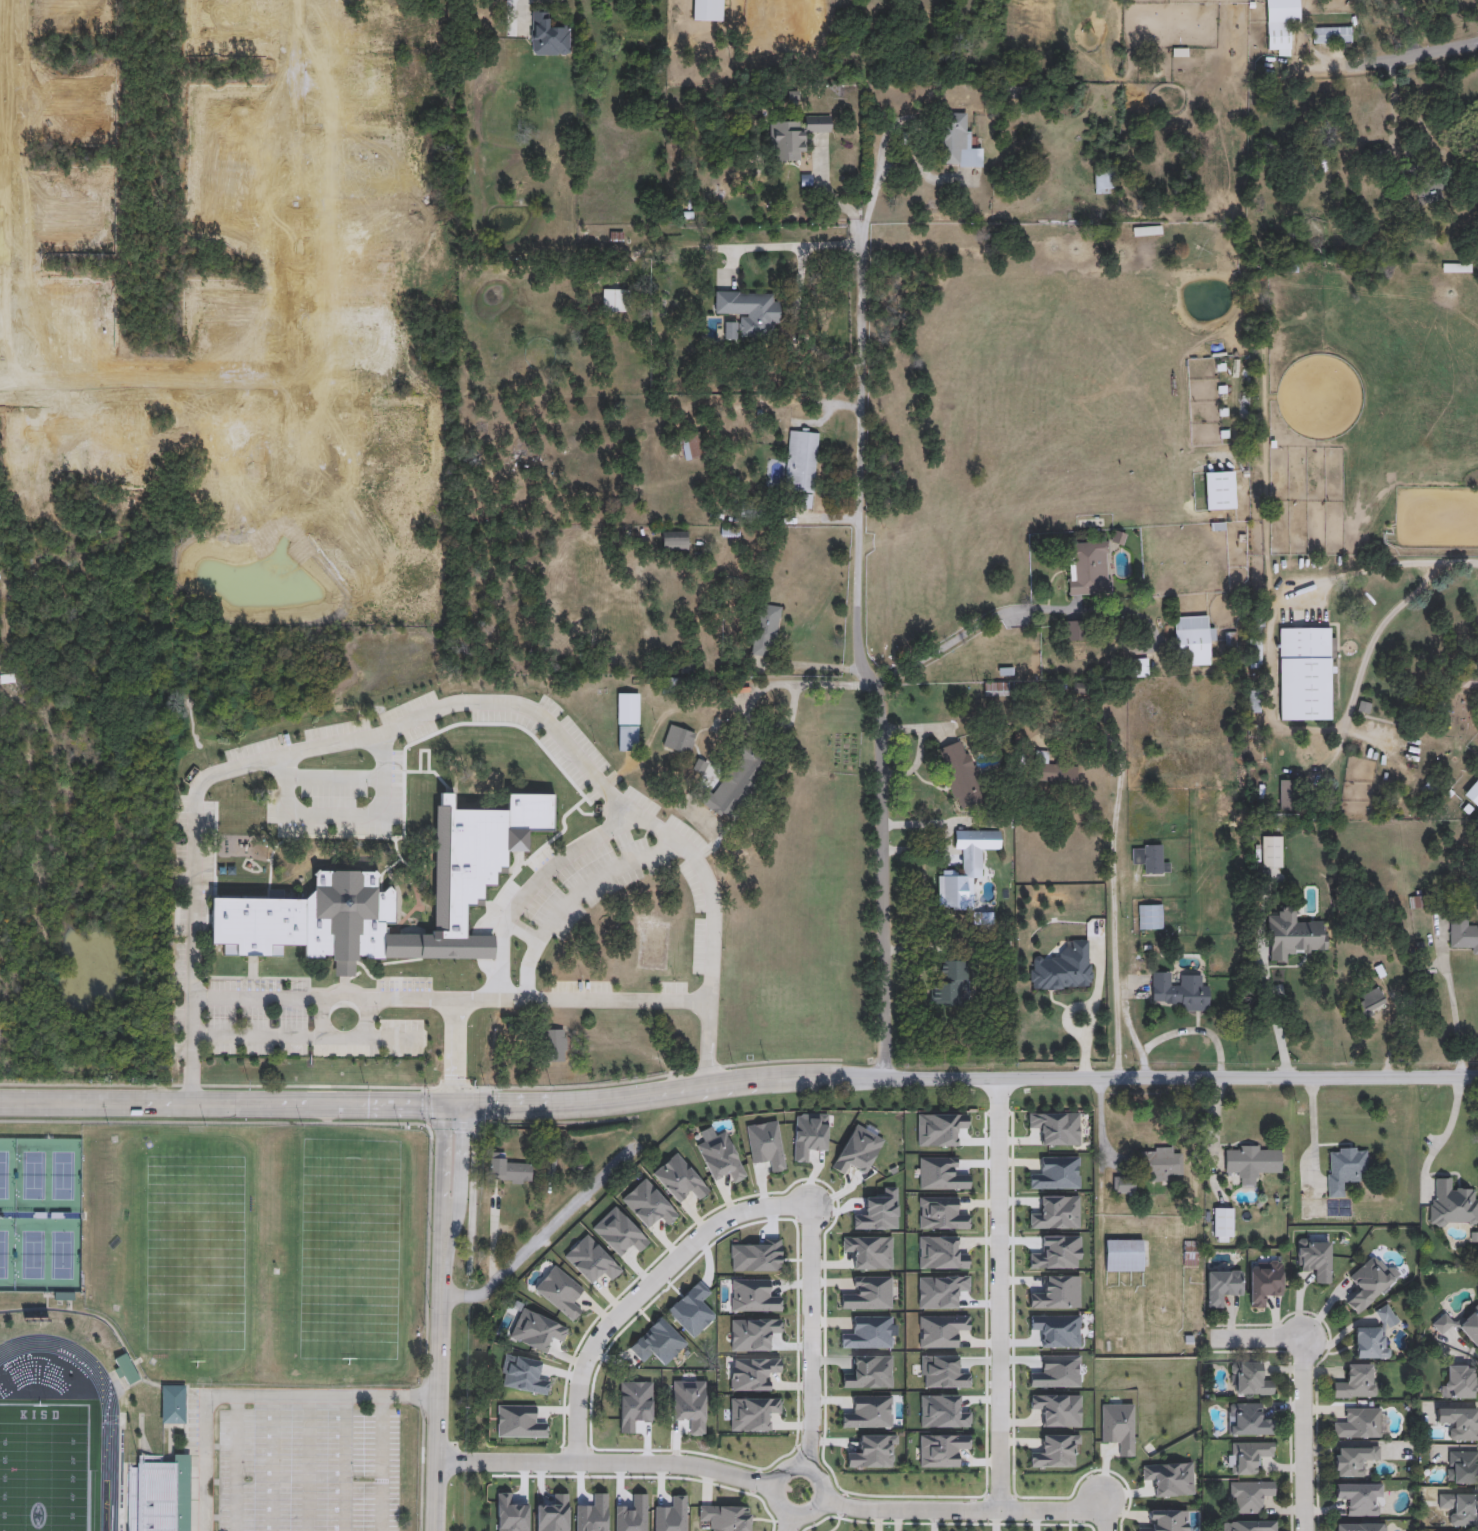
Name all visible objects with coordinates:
building: (1280, 24)
building: (548, 36)
building: (1331, 36)
road: (1415, 56)
road: (903, 123)
building: (794, 137)
building: (956, 142)
building: (1376, 159)
building: (1316, 162)
road: (897, 167)
building: (1104, 179)
building: (1424, 180)
road: (792, 247)
building: (613, 301)
building: (748, 314)
building: (690, 446)
building: (801, 461)
building: (1219, 491)
building: (674, 541)
road: (1456, 565)
building: (1088, 568)
road: (1011, 612)
building: (764, 630)
building: (1192, 641)
road: (861, 650)
building: (1255, 661)
road: (814, 665)
building: (1304, 674)
building: (995, 690)
road: (428, 713)
road: (1268, 713)
building: (627, 721)
building: (679, 739)
building: (1052, 771)
building: (960, 774)
road: (335, 779)
building: (731, 783)
building: (1472, 793)
building: (1286, 795)
road: (345, 816)
building: (1271, 852)
building: (1149, 860)
building: (965, 869)
building: (345, 884)
road: (532, 885)
road: (576, 895)
road: (1114, 916)
building: (1149, 917)
building: (1292, 935)
building: (1463, 935)
building: (1062, 969)
building: (949, 985)
building: (1179, 991)
road: (450, 999)
building: (1372, 999)
road: (1451, 1005)
road: (1275, 1014)
road: (322, 1017)
road: (367, 1018)
road: (304, 1035)
road: (454, 1038)
building: (555, 1045)
road: (453, 1077)
road: (738, 1081)
traffic signals: (442, 1103)
traffic signals: (463, 1103)
road: (1100, 1121)
road: (1450, 1129)
road: (1314, 1134)
building: (1252, 1162)
building: (1160, 1163)
building: (1069, 1166)
building: (508, 1168)
building: (1344, 1168)
park: (7, 1176)
park: (30, 1177)
park: (63, 1178)
road: (441, 1181)
road: (460, 1183)
building: (1124, 1185)
building: (731, 1191)
building: (1452, 1204)
building: (918, 1213)
building: (1223, 1224)
road: (543, 1236)
building: (978, 1241)
park: (193, 1247)
park: (346, 1247)
building: (1191, 1253)
building: (1124, 1256)
park: (6, 1257)
park: (30, 1258)
building: (1314, 1258)
park: (62, 1259)
building: (700, 1270)
building: (1264, 1282)
building: (1369, 1284)
building: (1222, 1286)
road: (643, 1289)
road: (1000, 1293)
building: (610, 1307)
building: (1386, 1316)
building: (761, 1324)
road: (810, 1337)
road: (1255, 1339)
building: (1369, 1343)
building: (127, 1369)
building: (1249, 1379)
building: (1356, 1381)
building: (1460, 1381)
road: (437, 1395)
road: (271, 1396)
building: (689, 1403)
building: (174, 1404)
building: (1249, 1419)
building: (1359, 1422)
building: (1459, 1423)
road: (1304, 1437)
road: (201, 1448)
building: (1248, 1456)
building: (1352, 1459)
parking lot: (307, 1460)
road: (607, 1462)
road: (346, 1463)
road: (377, 1463)
building: (1462, 1467)
park: (44, 1468)
track: (109, 1473)
road: (816, 1474)
building: (159, 1494)
building: (1250, 1496)
building: (1360, 1498)
building: (1459, 1508)
road: (963, 1509)
road: (1106, 1521)
road: (788, 1522)
building: (1249, 1525)
building: (1360, 1527)

